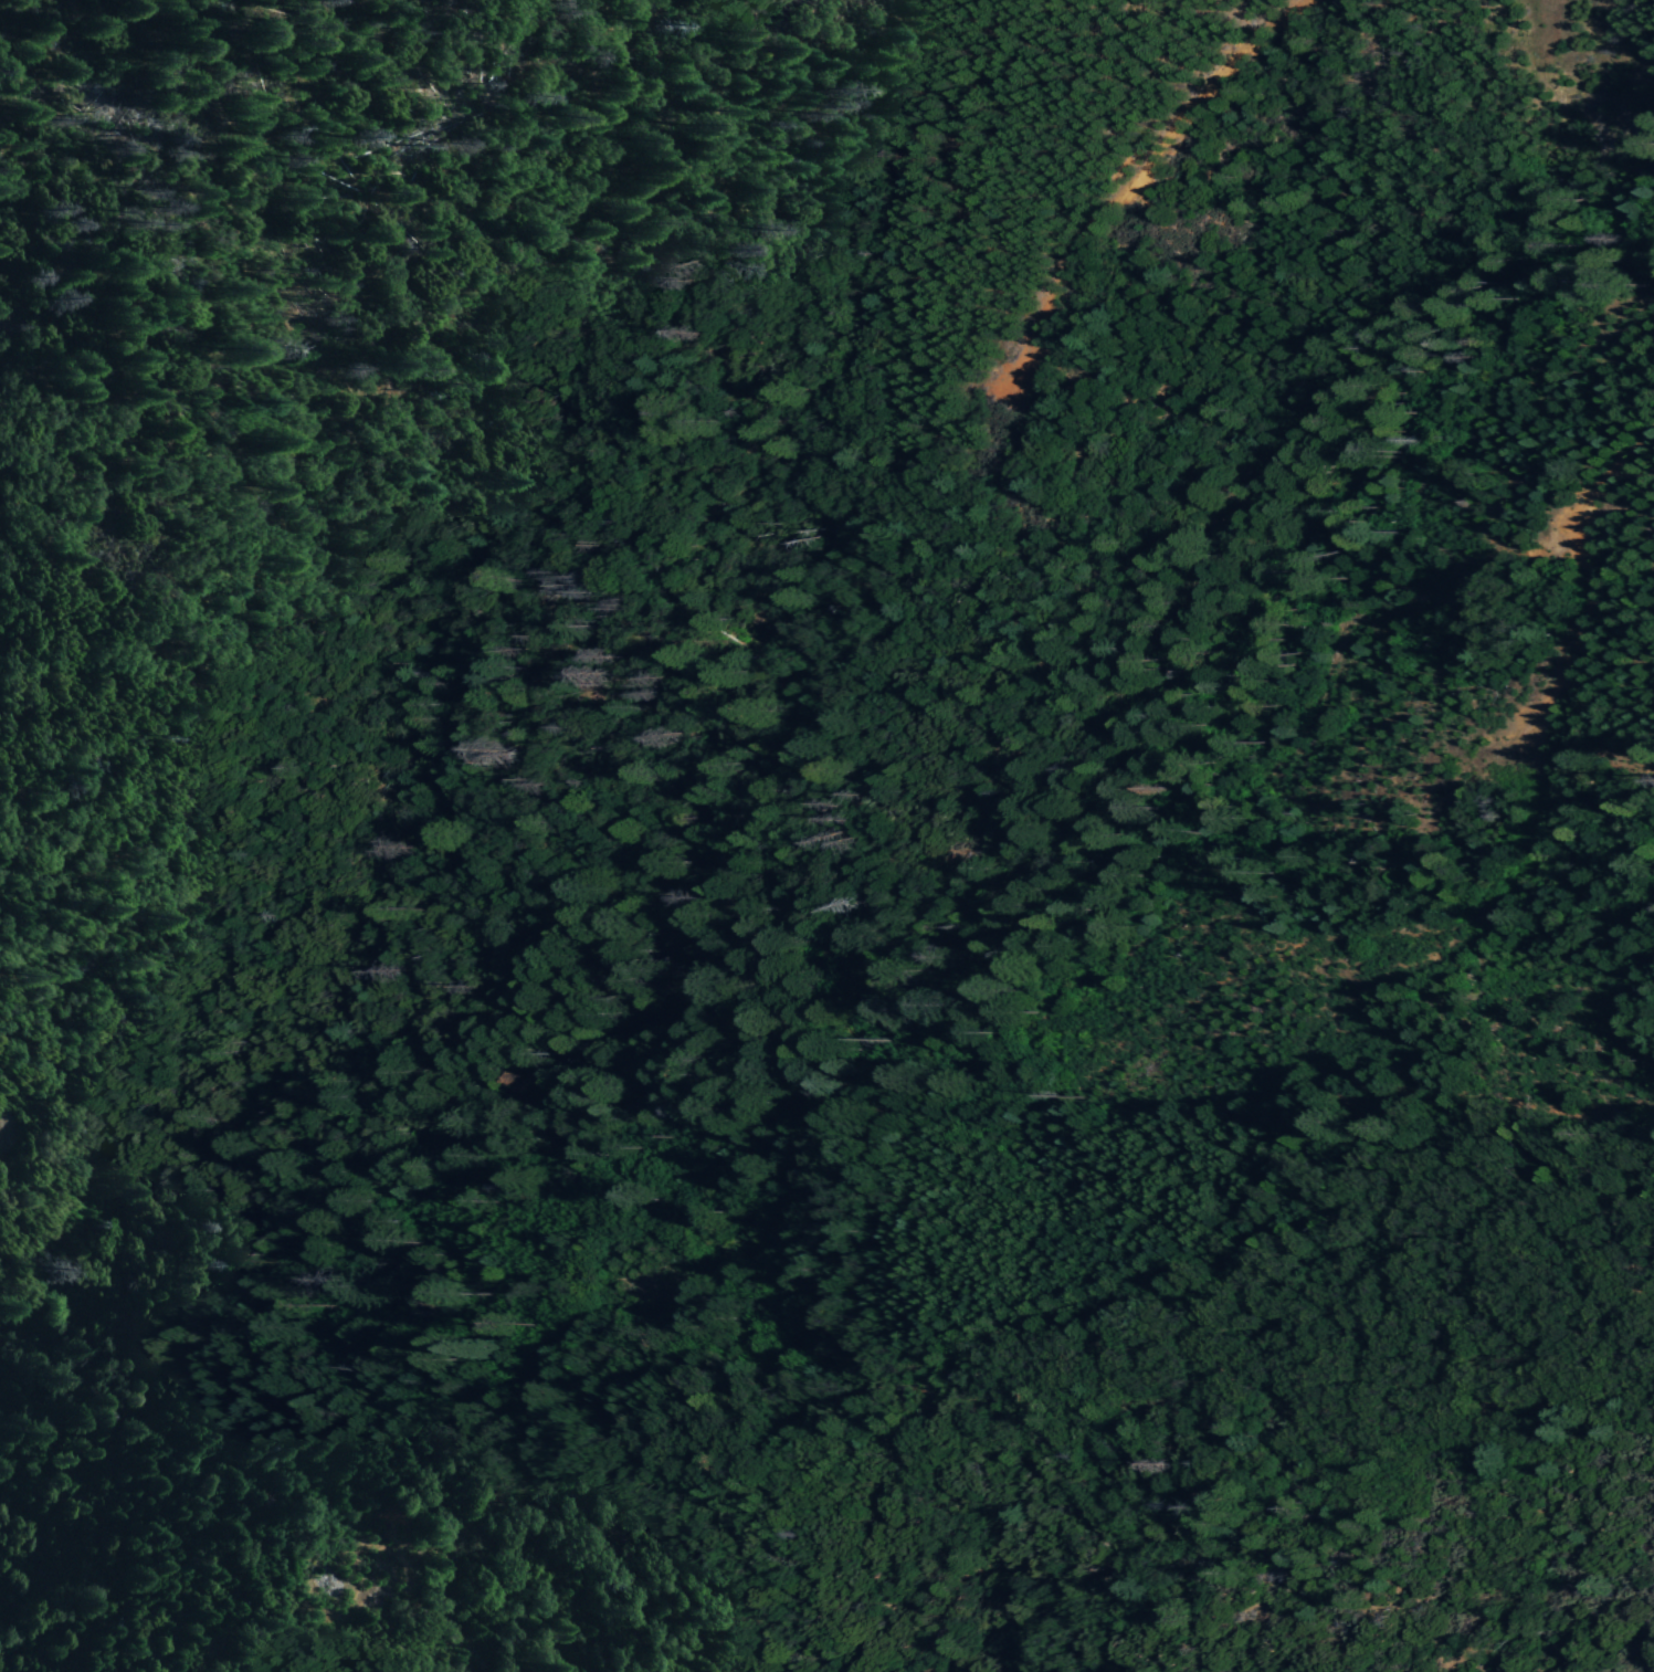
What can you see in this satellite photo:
road: (1588, 572)
park: (397, 1386)

